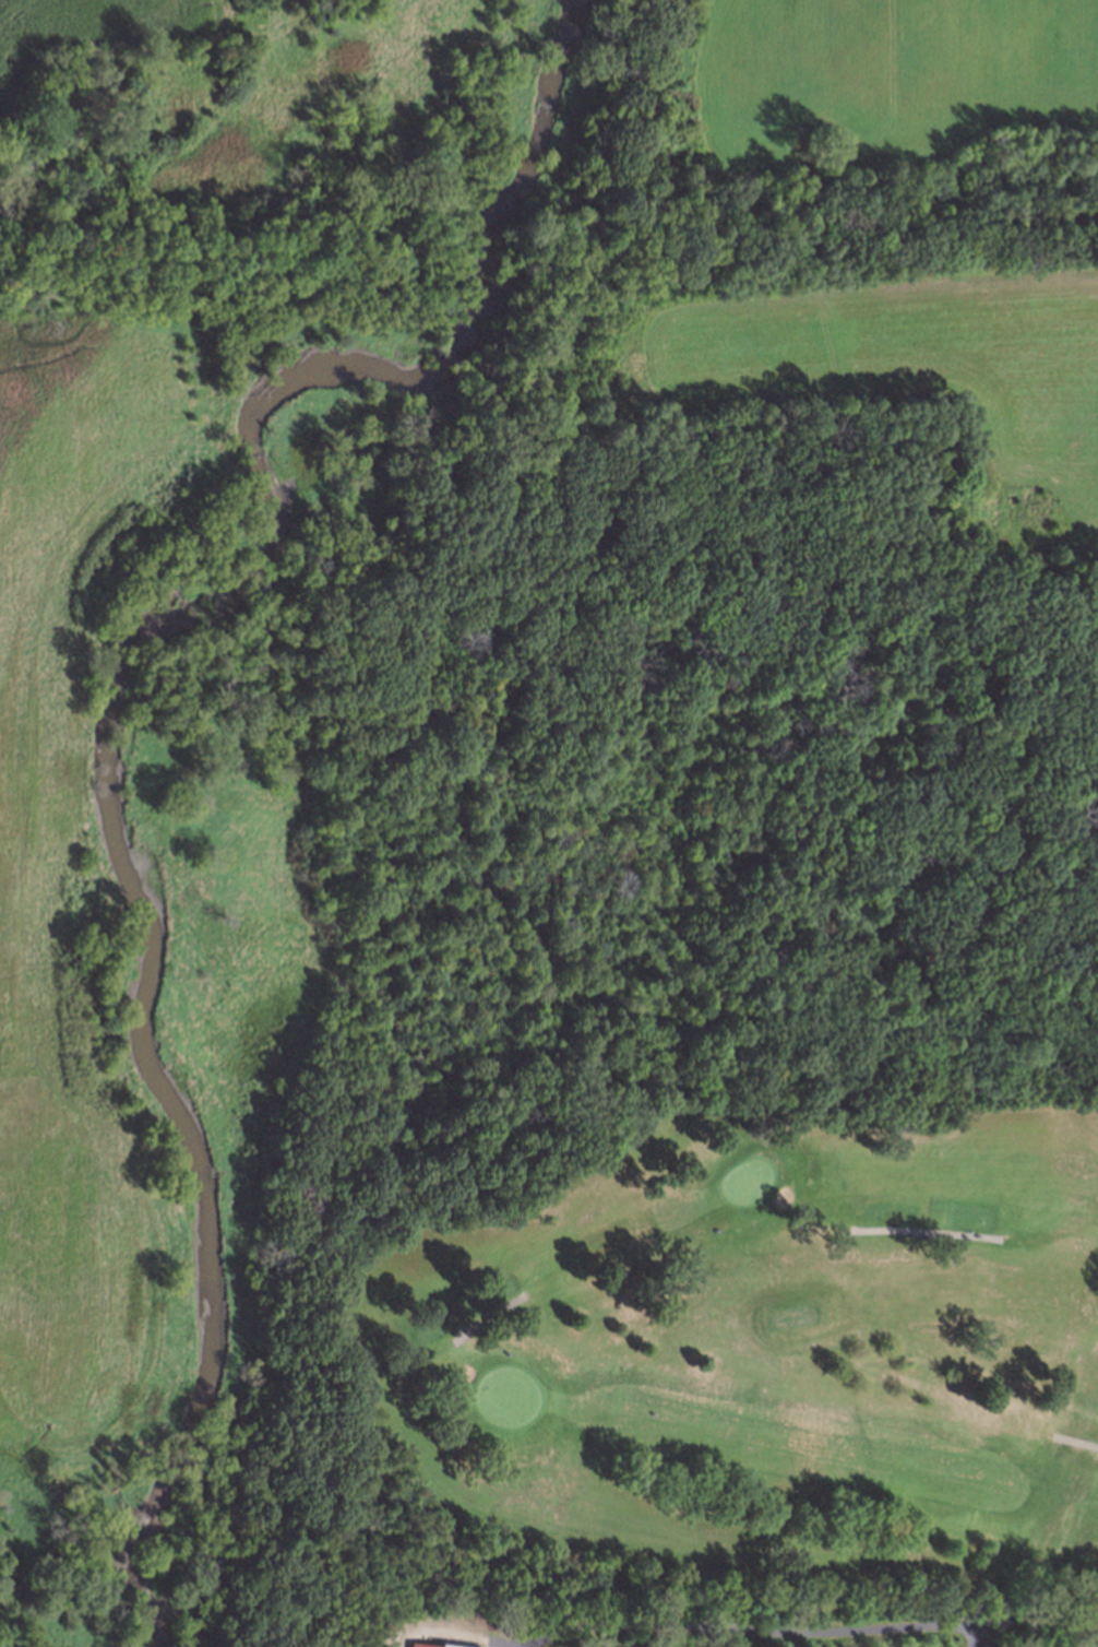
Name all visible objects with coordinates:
river: (277, 494)
road: (926, 1233)
road: (490, 1314)
park: (702, 1351)
road: (1076, 1441)
river: (180, 1607)
road: (807, 1631)
road: (975, 1634)
building: (411, 1646)

